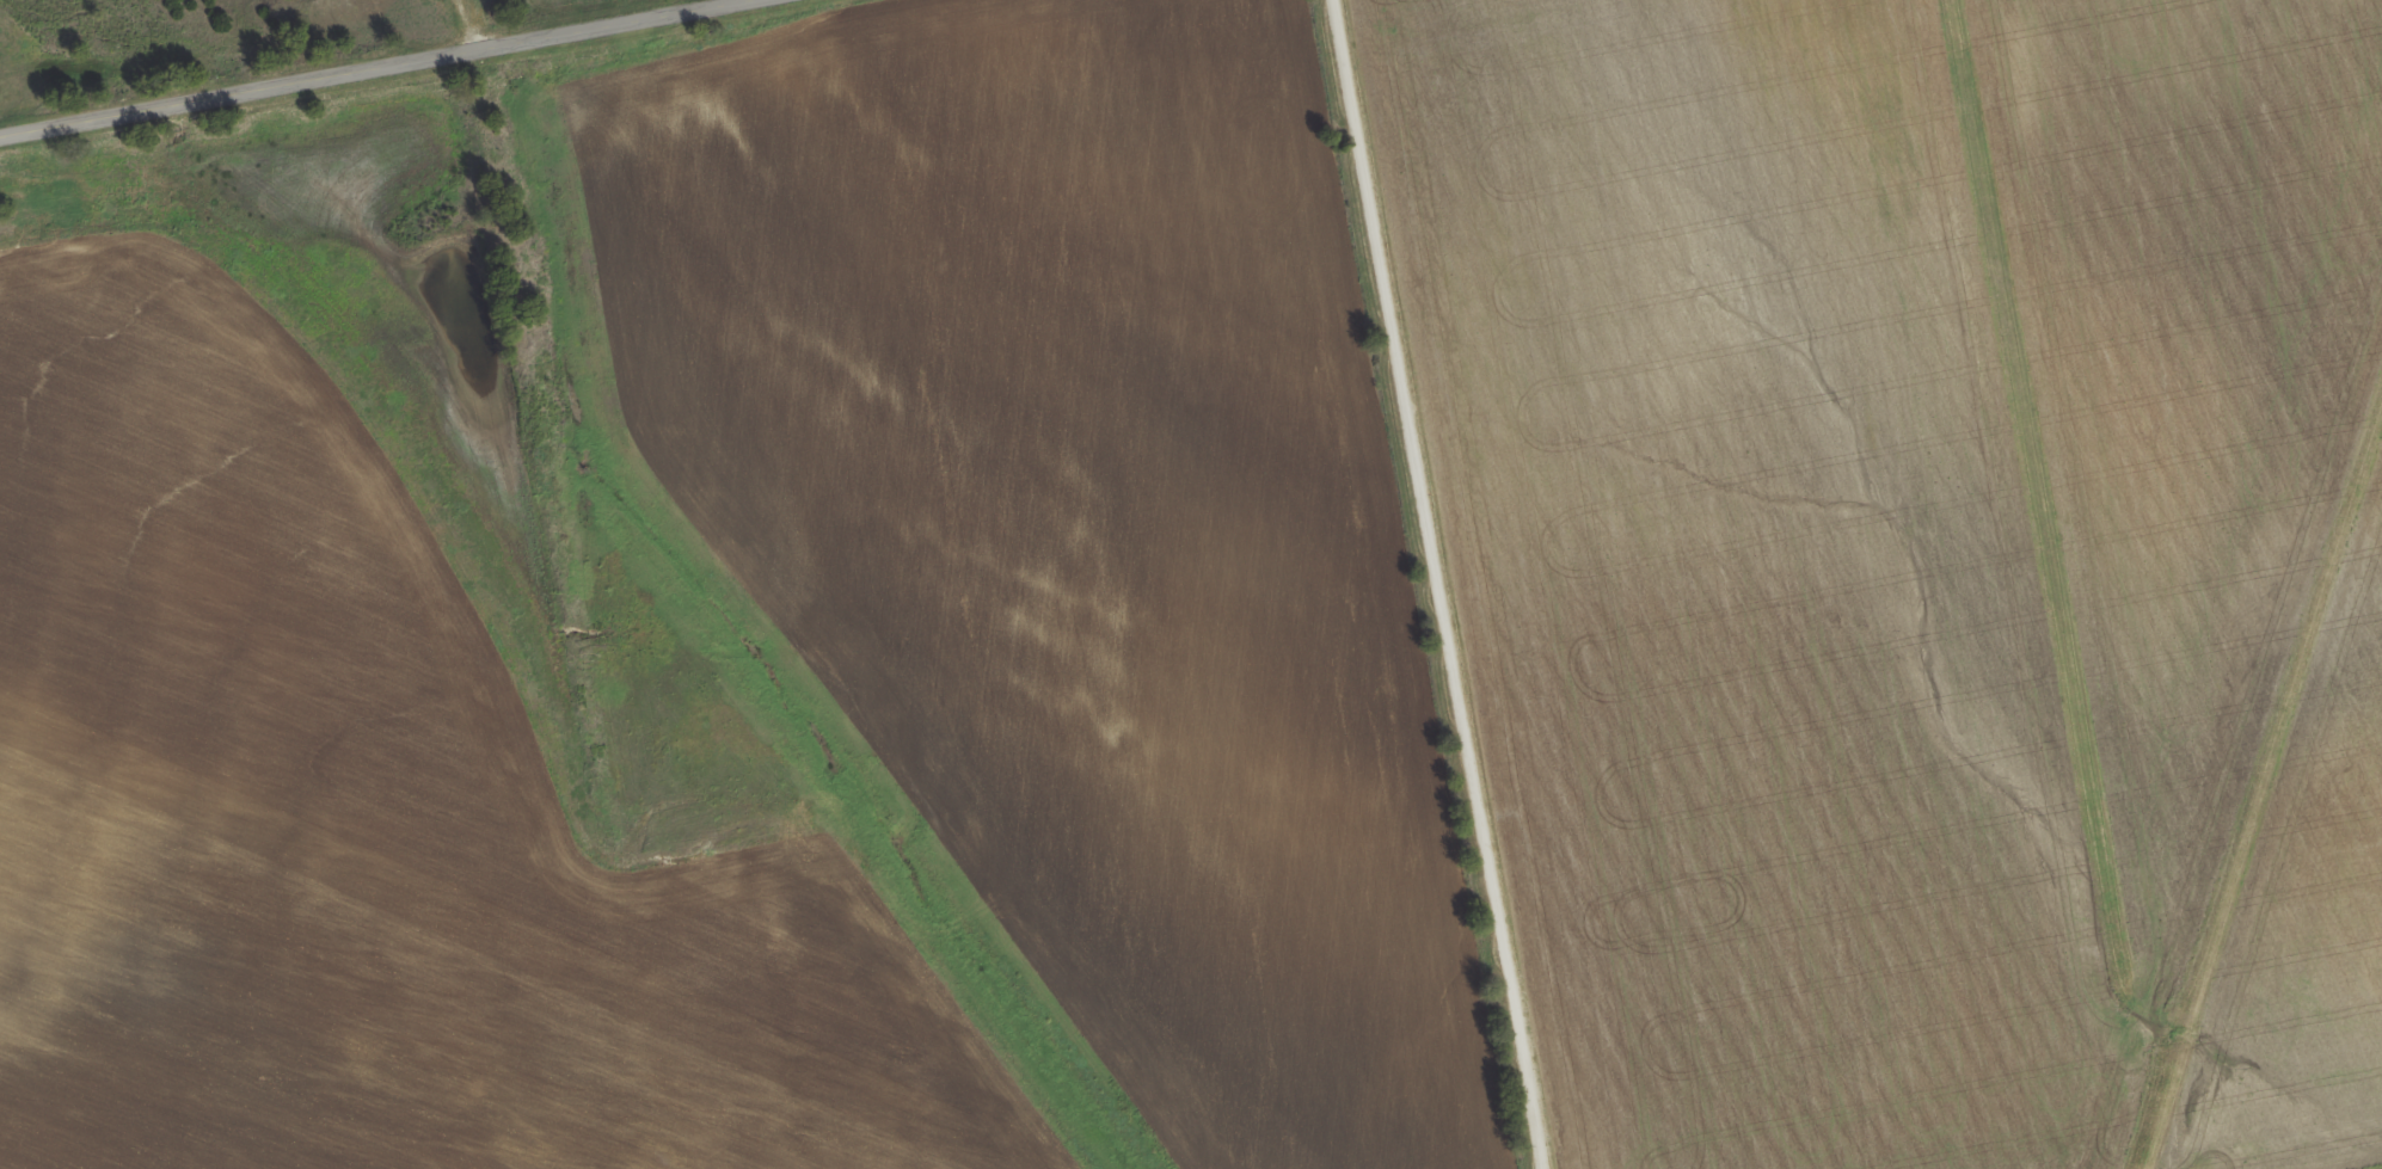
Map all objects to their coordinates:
road: (460, 26)
road: (374, 68)
road: (2048, 523)
road: (1441, 584)
railway: (712, 620)
road: (2277, 737)

